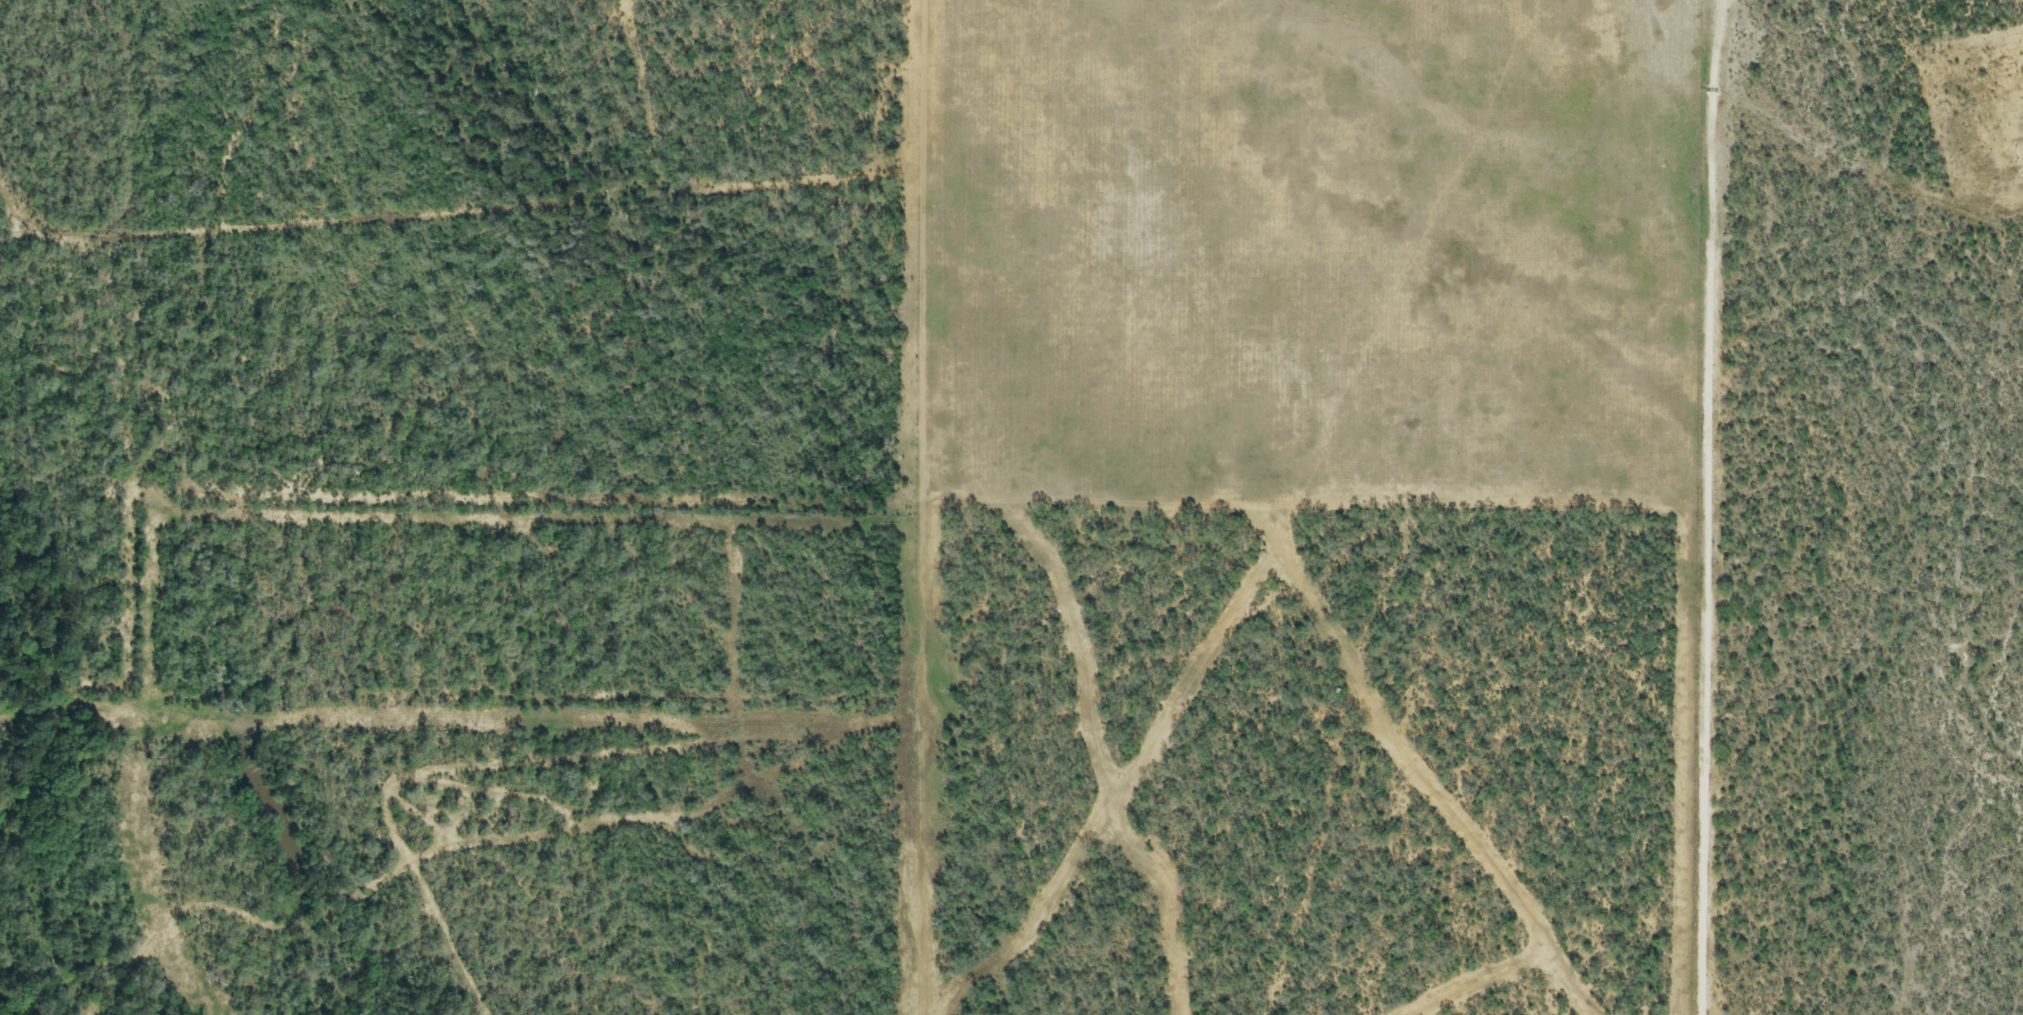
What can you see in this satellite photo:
road: (1702, 507)

